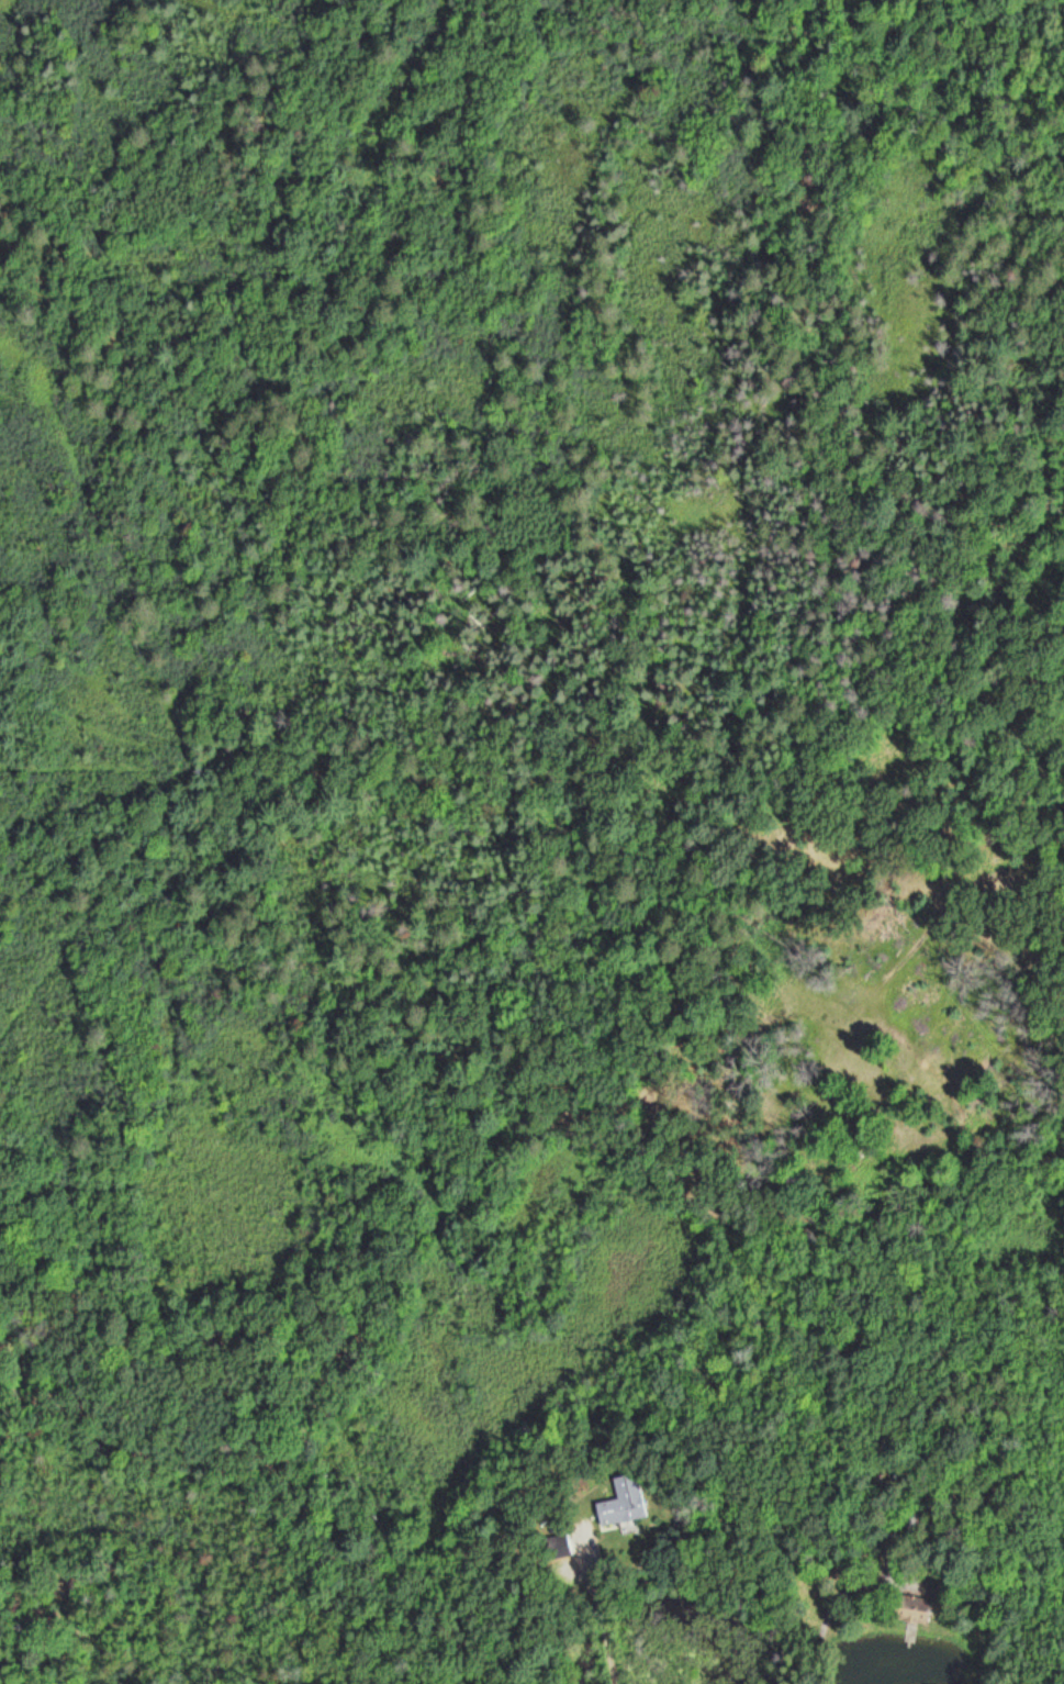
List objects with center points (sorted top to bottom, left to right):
building: (625, 1501)
building: (925, 1609)
road: (600, 1626)
road: (814, 1643)

